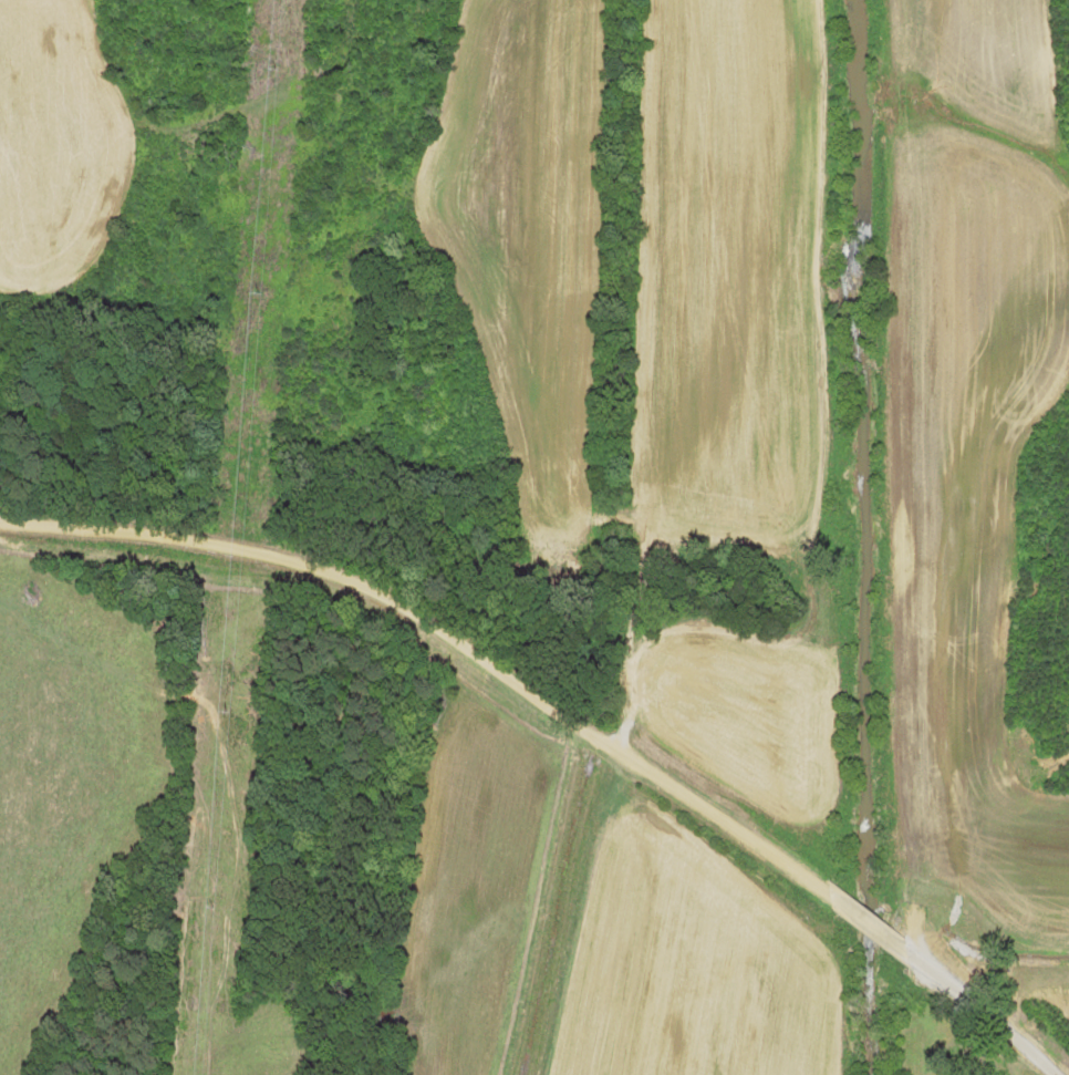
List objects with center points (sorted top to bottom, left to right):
road: (411, 648)
road: (863, 992)

